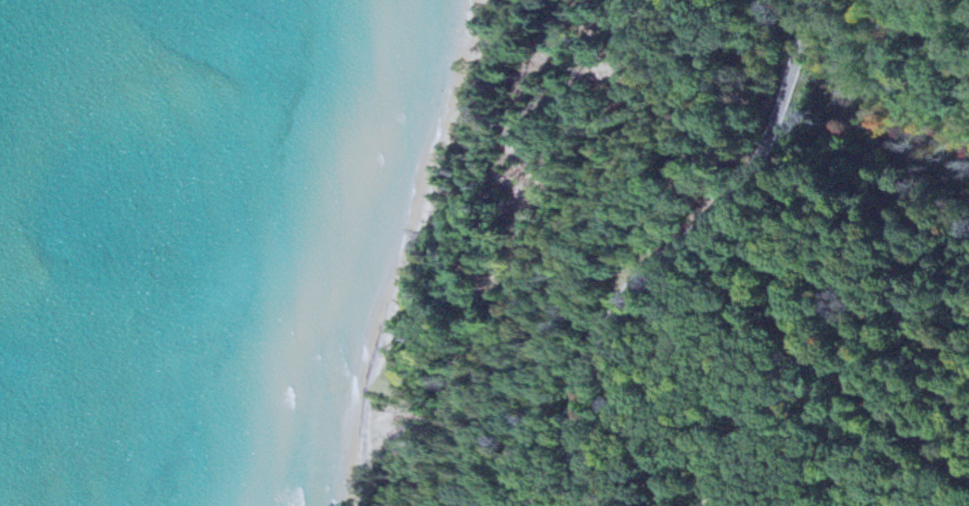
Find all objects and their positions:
road: (677, 250)
building: (723, 490)

